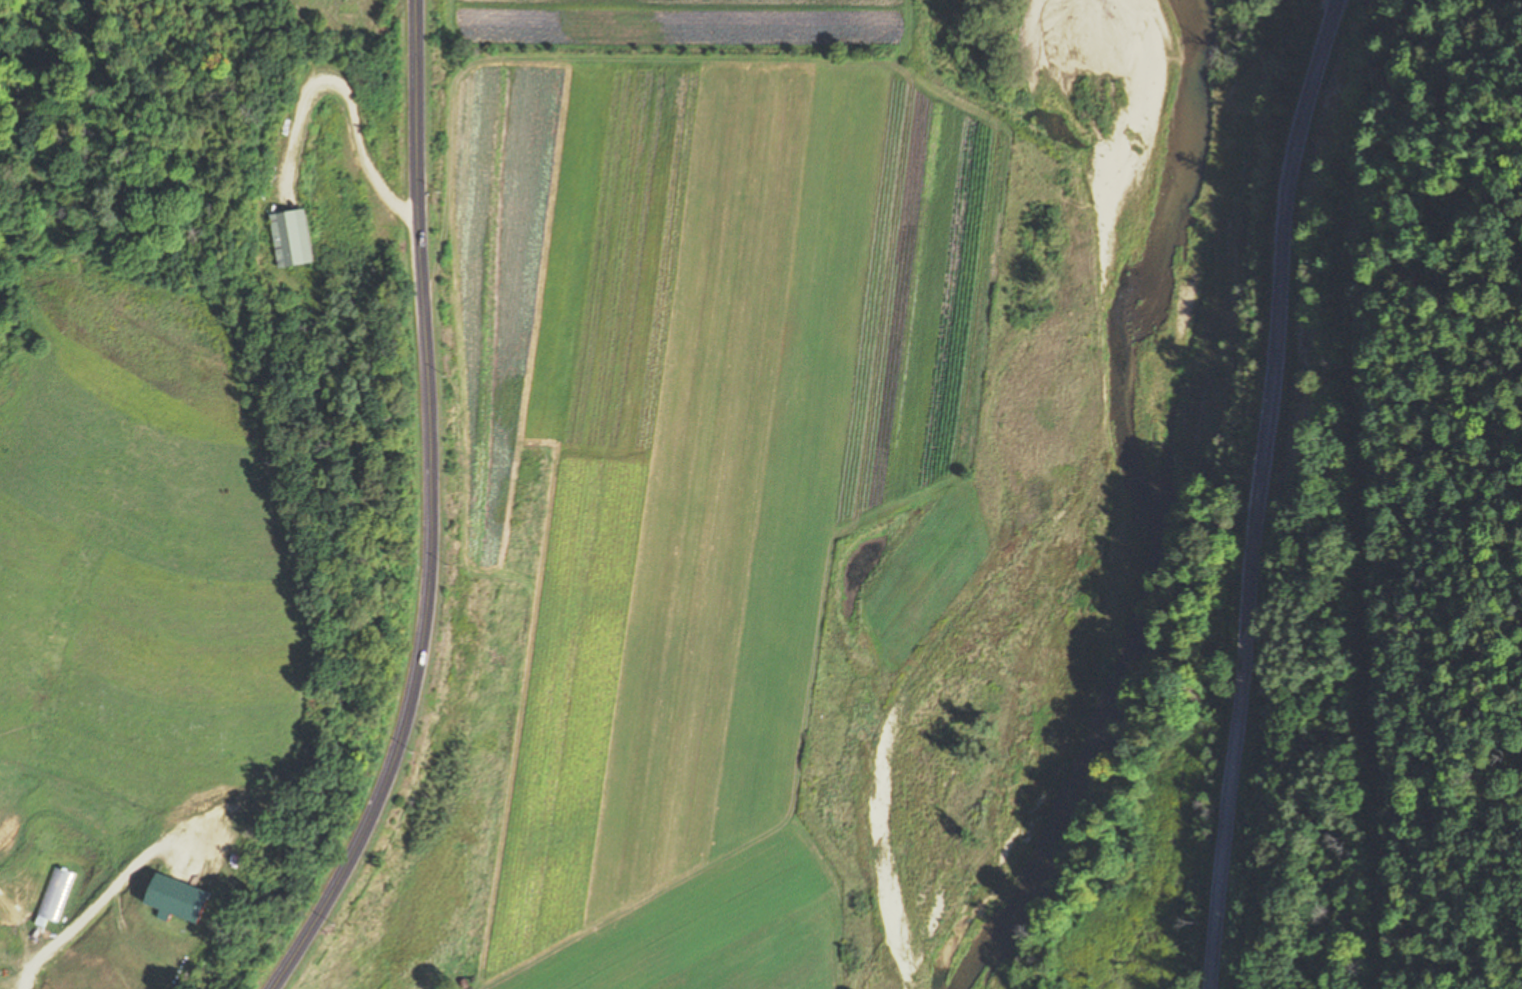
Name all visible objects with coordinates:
road: (342, 85)
building: (288, 241)
road: (1255, 491)
river: (1150, 493)
road: (429, 511)
road: (81, 916)

